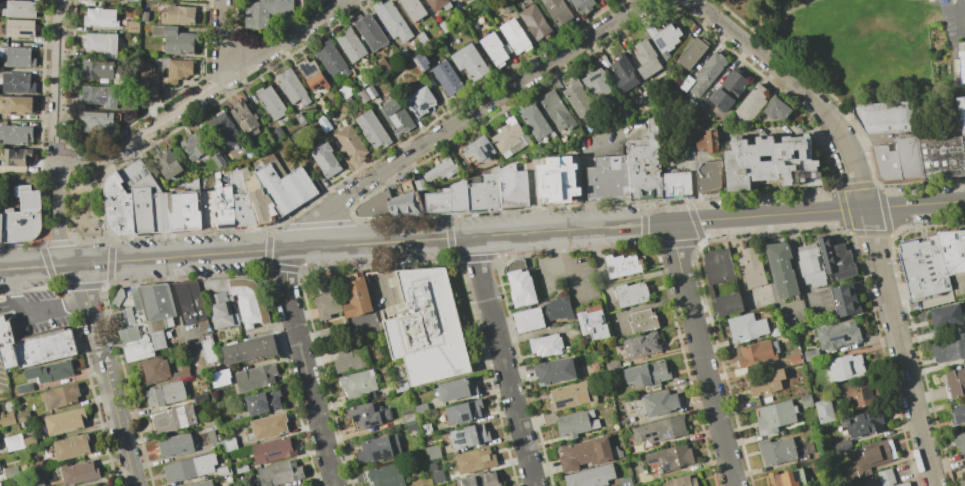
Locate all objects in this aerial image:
building: (108, 0)
building: (452, 0)
building: (453, 0)
park: (932, 0)
building: (133, 3)
building: (439, 4)
building: (152, 5)
building: (583, 5)
building: (199, 6)
road: (801, 6)
building: (507, 8)
building: (413, 9)
building: (19, 10)
park: (953, 10)
building: (557, 11)
road: (770, 11)
building: (265, 12)
building: (179, 15)
building: (145, 16)
park: (763, 17)
building: (101, 18)
building: (392, 21)
building: (535, 22)
building: (132, 26)
building: (444, 27)
building: (20, 28)
building: (369, 31)
building: (515, 36)
road: (777, 36)
road: (225, 37)
building: (422, 38)
building: (663, 38)
building: (175, 39)
rooftop solar panel: (659, 43)
building: (101, 44)
building: (350, 44)
building: (495, 49)
building: (690, 51)
building: (405, 53)
building: (18, 57)
building: (331, 59)
building: (646, 59)
building: (421, 62)
building: (471, 62)
building: (384, 66)
building: (961, 66)
rooftop solar panel: (302, 69)
rooftop solar panel: (309, 69)
rooftop solar panel: (313, 69)
building: (101, 71)
building: (178, 71)
building: (707, 72)
building: (312, 74)
building: (623, 74)
building: (148, 75)
rooftop solar panel: (118, 77)
road: (58, 78)
building: (447, 78)
road: (225, 79)
building: (362, 79)
building: (685, 82)
building: (18, 83)
rooftop solar panel: (323, 83)
building: (556, 84)
building: (596, 84)
rooftop solar panel: (319, 85)
building: (291, 86)
building: (344, 90)
building: (370, 91)
building: (727, 91)
building: (149, 95)
building: (362, 96)
building: (99, 97)
rooftop solar panel: (101, 97)
building: (578, 98)
building: (420, 101)
building: (271, 103)
building: (750, 103)
building: (16, 104)
building: (702, 105)
building: (321, 106)
building: (775, 109)
building: (558, 112)
road: (470, 114)
building: (397, 117)
building: (885, 117)
building: (245, 119)
building: (961, 119)
building: (301, 120)
building: (95, 121)
building: (536, 122)
rooftop solar panel: (397, 123)
building: (226, 130)
building: (372, 130)
building: (279, 133)
building: (15, 134)
building: (509, 137)
building: (707, 141)
building: (351, 144)
building: (194, 145)
building: (478, 149)
building: (16, 156)
road: (79, 156)
building: (941, 156)
building: (325, 159)
building: (219, 161)
building: (897, 161)
building: (770, 162)
building: (167, 163)
building: (645, 165)
building: (440, 169)
building: (468, 169)
road: (585, 173)
building: (139, 176)
building: (708, 176)
building: (608, 177)
building: (558, 180)
building: (285, 184)
building: (420, 184)
building: (676, 184)
building: (406, 186)
building: (513, 187)
road: (694, 189)
building: (396, 191)
building: (485, 193)
building: (28, 197)
road: (535, 198)
building: (448, 199)
building: (261, 201)
building: (119, 204)
building: (406, 204)
building: (376, 205)
park: (84, 206)
building: (225, 207)
road: (104, 208)
building: (142, 209)
building: (209, 209)
building: (243, 210)
road: (863, 211)
road: (57, 212)
building: (160, 212)
building: (184, 212)
building: (21, 224)
building: (1, 227)
road: (482, 235)
road: (559, 242)
building: (952, 251)
building: (837, 260)
building: (621, 264)
building: (811, 265)
road: (797, 266)
building: (751, 267)
building: (922, 267)
road: (738, 269)
building: (782, 269)
road: (575, 271)
road: (555, 272)
road: (768, 276)
parking lot: (570, 279)
building: (721, 281)
building: (519, 284)
building: (631, 293)
building: (356, 296)
road: (174, 297)
parking lot: (757, 297)
building: (844, 299)
building: (190, 301)
building: (217, 301)
building: (328, 301)
building: (156, 302)
building: (249, 302)
parking lot: (818, 305)
road: (645, 306)
building: (556, 309)
road: (33, 313)
parking lot: (37, 313)
parking lot: (793, 316)
building: (947, 316)
building: (528, 319)
building: (641, 321)
building: (592, 322)
building: (134, 326)
building: (747, 327)
building: (427, 328)
building: (160, 332)
building: (838, 335)
rooftop solar panel: (837, 337)
building: (9, 345)
building: (546, 346)
building: (48, 347)
building: (642, 347)
building: (251, 349)
building: (949, 349)
building: (208, 351)
building: (758, 353)
road: (700, 354)
building: (810, 355)
building: (794, 357)
building: (352, 359)
road: (503, 361)
building: (845, 367)
road: (305, 368)
building: (161, 370)
building: (742, 371)
building: (50, 372)
building: (556, 372)
road: (105, 373)
building: (651, 374)
building: (256, 377)
building: (220, 378)
parking lot: (3, 382)
building: (765, 382)
building: (358, 383)
building: (955, 383)
building: (401, 387)
building: (24, 389)
building: (457, 389)
building: (165, 394)
building: (862, 394)
building: (617, 395)
building: (61, 396)
building: (567, 397)
building: (201, 398)
building: (807, 401)
building: (264, 402)
building: (661, 404)
building: (421, 409)
building: (824, 410)
building: (464, 412)
building: (368, 414)
building: (957, 414)
building: (24, 416)
building: (407, 416)
building: (775, 417)
building: (7, 419)
building: (172, 420)
building: (65, 421)
building: (208, 421)
building: (573, 425)
building: (864, 425)
building: (268, 427)
building: (411, 427)
building: (426, 430)
building: (659, 430)
rooftop solar panel: (647, 434)
rooftop solar panel: (652, 434)
rooftop solar panel: (671, 435)
building: (469, 436)
building: (212, 437)
rooftop solar panel: (461, 439)
rooftop solar panel: (654, 440)
building: (14, 442)
building: (960, 442)
building: (229, 444)
building: (177, 445)
building: (841, 446)
building: (71, 447)
building: (379, 449)
building: (274, 450)
building: (778, 451)
rooftop solar panel: (275, 453)
building: (432, 453)
building: (585, 454)
rooftop solar panel: (384, 458)
building: (870, 458)
building: (669, 459)
building: (475, 460)
building: (964, 460)
building: (36, 466)
building: (189, 468)
building: (241, 468)
building: (11, 472)
building: (223, 472)
building: (79, 473)
building: (280, 473)
building: (964, 473)
building: (383, 475)
building: (439, 476)
building: (591, 476)
building: (886, 477)
building: (788, 478)
building: (482, 480)
building: (682, 481)
building: (872, 481)
building: (625, 482)
building: (39, 483)
building: (962, 483)
building: (0, 484)
building: (203, 484)
building: (904, 484)
building: (100, 485)
building: (299, 485)
building: (303, 485)

